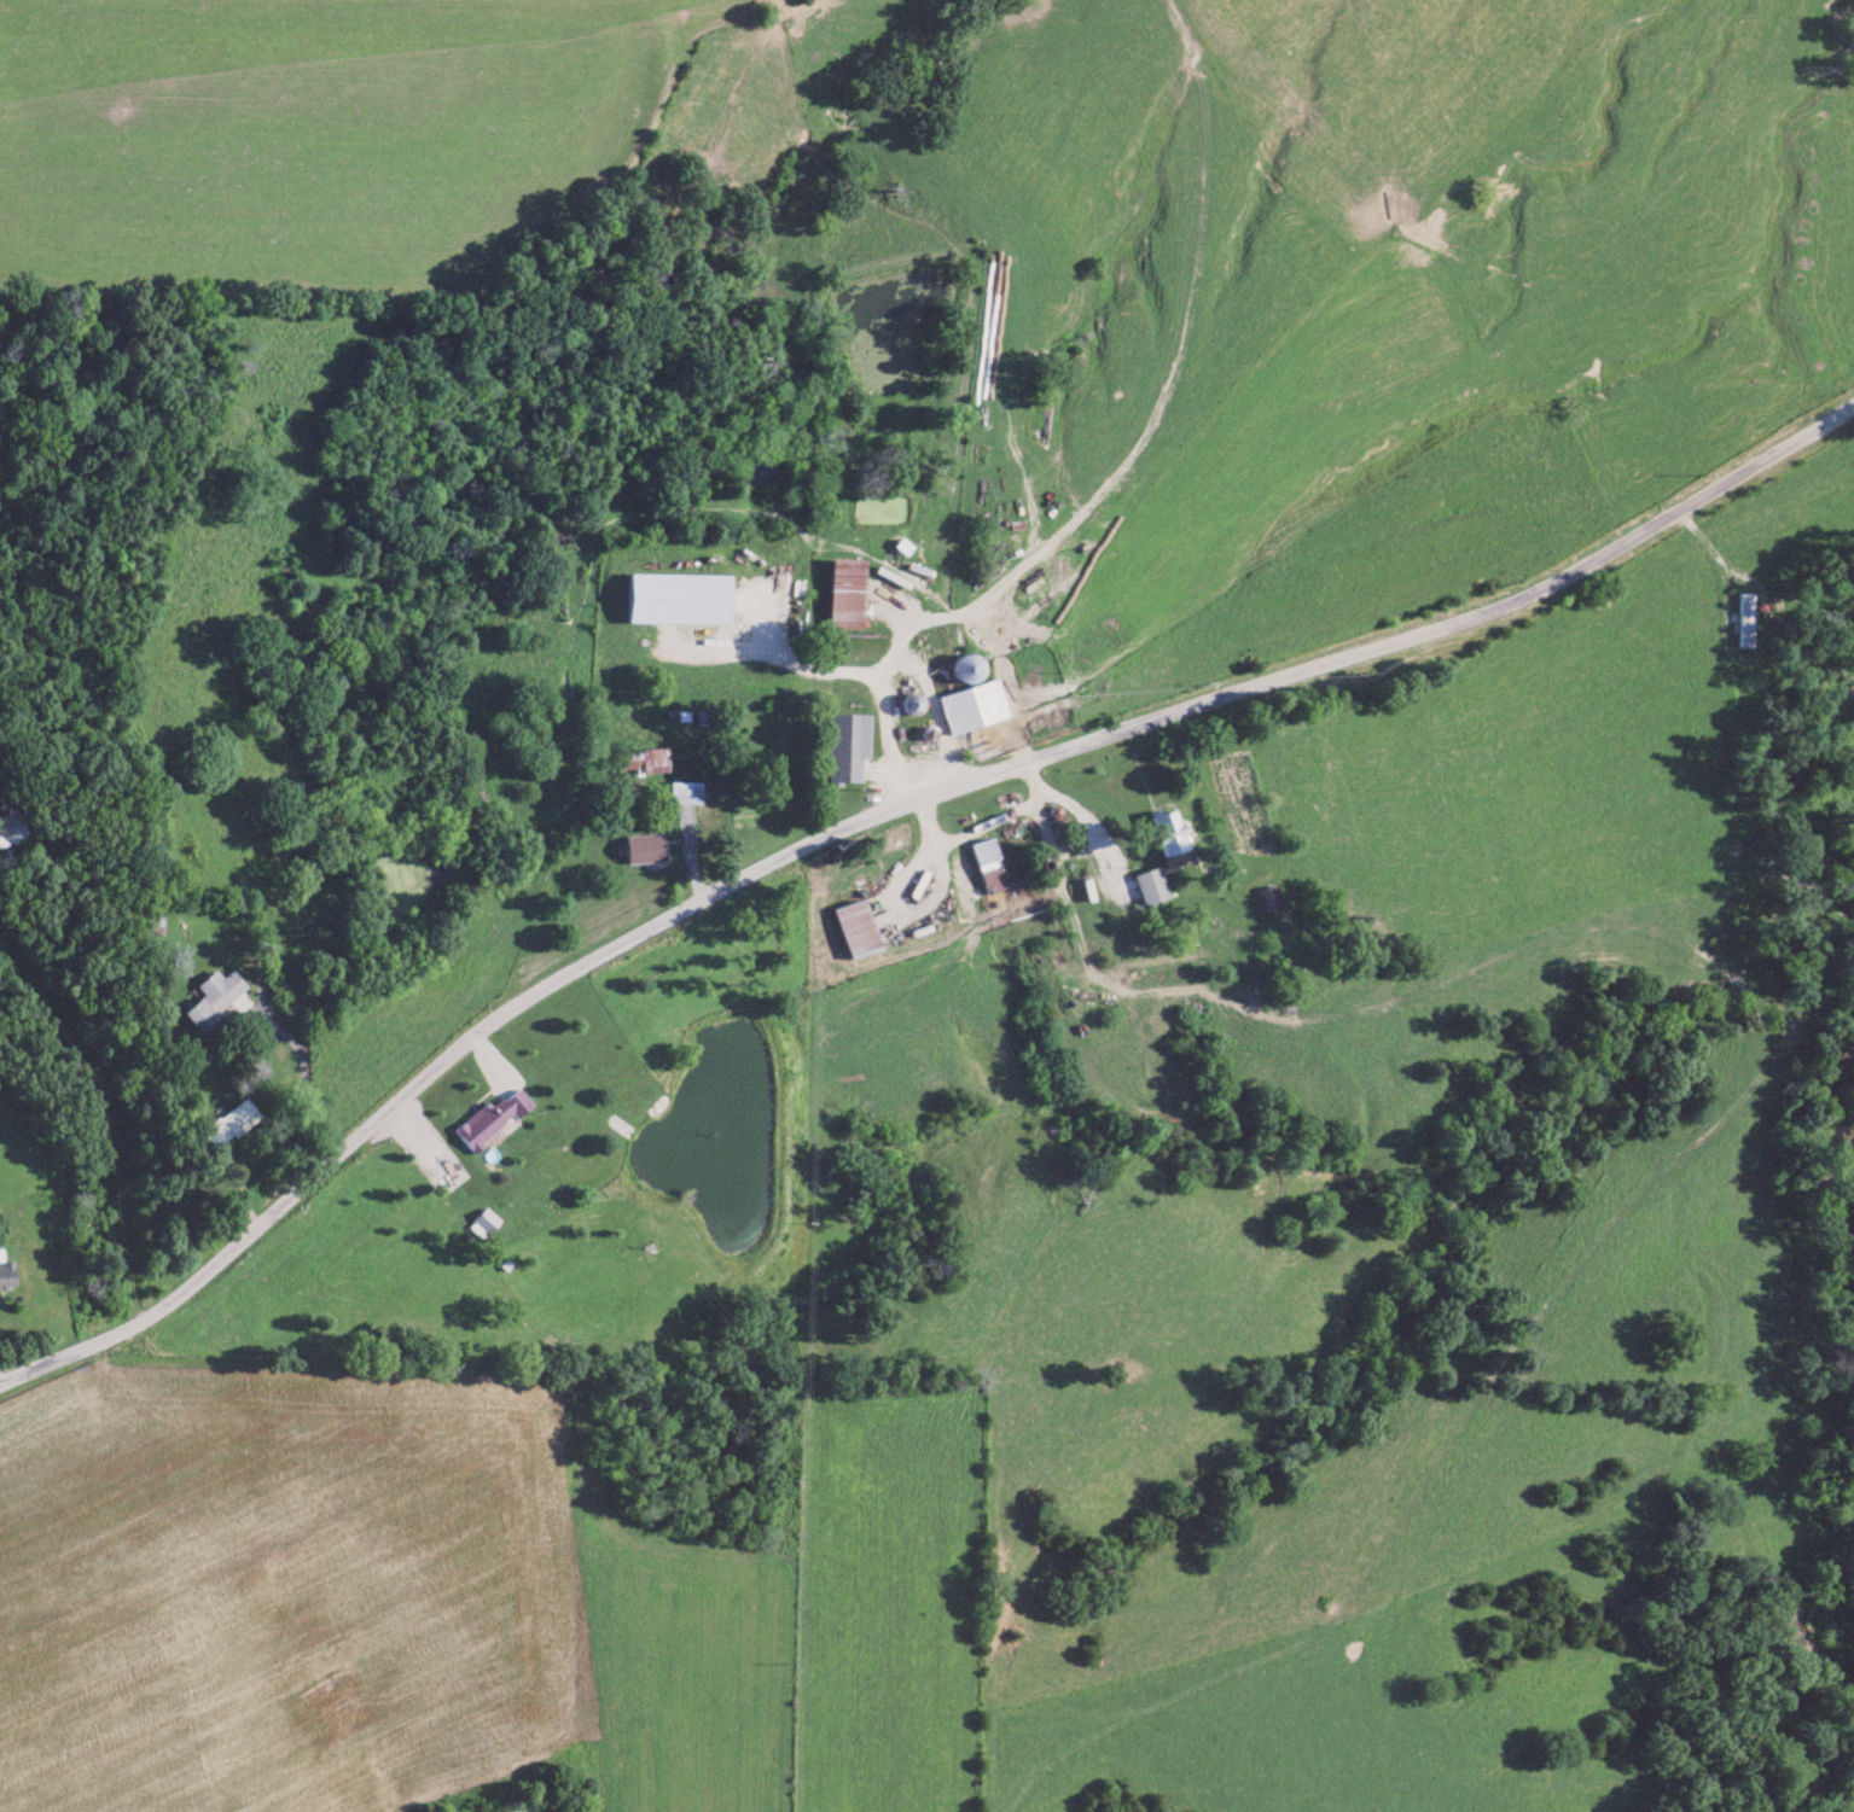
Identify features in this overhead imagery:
building: (901, 543)
building: (843, 590)
building: (676, 595)
building: (1744, 617)
building: (965, 665)
road: (888, 698)
building: (971, 704)
building: (844, 744)
building: (643, 757)
building: (682, 791)
road: (877, 804)
road: (974, 820)
building: (10, 826)
building: (1167, 835)
building: (643, 845)
building: (986, 863)
building: (1147, 882)
building: (1265, 896)
building: (853, 926)
building: (211, 995)
building: (489, 1117)
building: (228, 1121)
building: (482, 1222)
building: (6, 1271)

